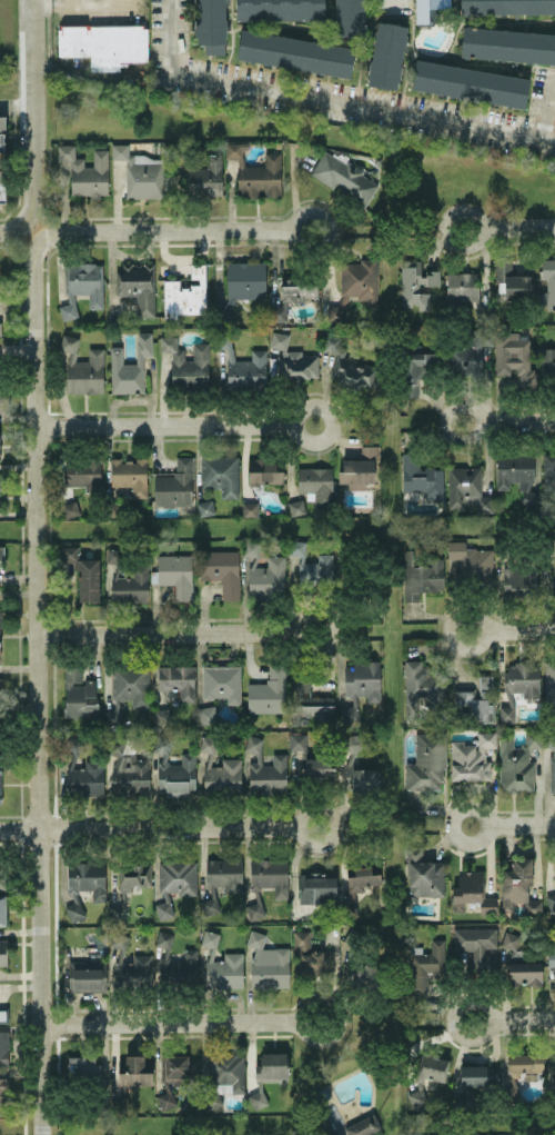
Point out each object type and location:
road: (83, 2)
building: (506, 6)
road: (390, 8)
building: (279, 9)
building: (421, 14)
building: (350, 17)
building: (210, 21)
building: (104, 43)
building: (507, 43)
building: (294, 52)
building: (386, 53)
building: (470, 83)
road: (326, 100)
road: (548, 102)
road: (17, 104)
road: (32, 108)
building: (2, 159)
building: (85, 171)
building: (140, 172)
building: (255, 172)
building: (205, 177)
building: (344, 177)
road: (325, 227)
road: (18, 228)
road: (482, 228)
road: (518, 228)
road: (169, 229)
building: (512, 280)
building: (243, 281)
building: (416, 283)
building: (547, 283)
building: (137, 285)
building: (82, 286)
building: (355, 286)
building: (462, 287)
building: (185, 293)
building: (292, 295)
building: (0, 328)
building: (468, 351)
building: (514, 358)
building: (293, 359)
building: (186, 365)
building: (349, 366)
building: (548, 366)
building: (130, 367)
building: (243, 367)
building: (83, 368)
building: (414, 370)
building: (1, 394)
road: (329, 421)
road: (480, 422)
road: (517, 422)
road: (165, 424)
building: (359, 468)
building: (265, 470)
building: (548, 471)
building: (83, 472)
building: (220, 474)
building: (130, 475)
building: (516, 476)
building: (421, 477)
building: (1, 481)
building: (316, 482)
building: (174, 484)
building: (467, 490)
building: (205, 507)
building: (295, 507)
building: (250, 508)
building: (252, 548)
building: (1, 552)
building: (471, 561)
building: (312, 566)
building: (221, 570)
building: (83, 573)
building: (174, 574)
building: (421, 575)
building: (128, 578)
building: (266, 578)
building: (519, 579)
building: (553, 587)
building: (0, 618)
road: (483, 628)
road: (519, 628)
road: (331, 631)
road: (168, 633)
building: (0, 656)
road: (38, 680)
building: (178, 680)
building: (362, 680)
building: (222, 683)
building: (131, 684)
building: (549, 684)
building: (518, 686)
building: (269, 690)
building: (79, 694)
building: (477, 699)
building: (310, 703)
building: (113, 714)
building: (347, 714)
building: (206, 715)
building: (161, 716)
building: (297, 741)
building: (353, 741)
building: (208, 744)
building: (472, 757)
building: (426, 761)
building: (517, 761)
building: (319, 768)
building: (128, 769)
building: (265, 769)
building: (552, 770)
building: (174, 771)
building: (223, 776)
building: (85, 778)
building: (361, 778)
building: (0, 784)
road: (484, 823)
road: (519, 823)
road: (332, 826)
road: (149, 827)
building: (554, 869)
building: (224, 874)
building: (423, 874)
building: (87, 878)
building: (131, 879)
building: (264, 879)
building: (2, 883)
building: (173, 883)
building: (554, 883)
building: (518, 885)
building: (319, 887)
building: (357, 887)
building: (472, 893)
building: (551, 900)
building: (2, 910)
building: (74, 910)
building: (164, 938)
building: (210, 938)
building: (119, 939)
building: (509, 939)
building: (476, 945)
building: (3, 952)
building: (551, 953)
building: (312, 955)
building: (268, 963)
building: (425, 965)
building: (180, 968)
building: (133, 970)
building: (225, 972)
building: (524, 973)
building: (85, 975)
building: (2, 1014)
road: (490, 1017)
road: (523, 1018)
road: (336, 1020)
road: (167, 1023)
building: (3, 1048)
building: (524, 1062)
building: (554, 1065)
building: (82, 1066)
building: (433, 1067)
building: (174, 1069)
building: (134, 1071)
building: (268, 1074)
building: (477, 1075)
building: (3, 1095)
building: (416, 1096)
building: (464, 1098)
building: (120, 1099)
building: (165, 1099)
road: (343, 1103)
building: (325, 1124)
building: (363, 1125)

